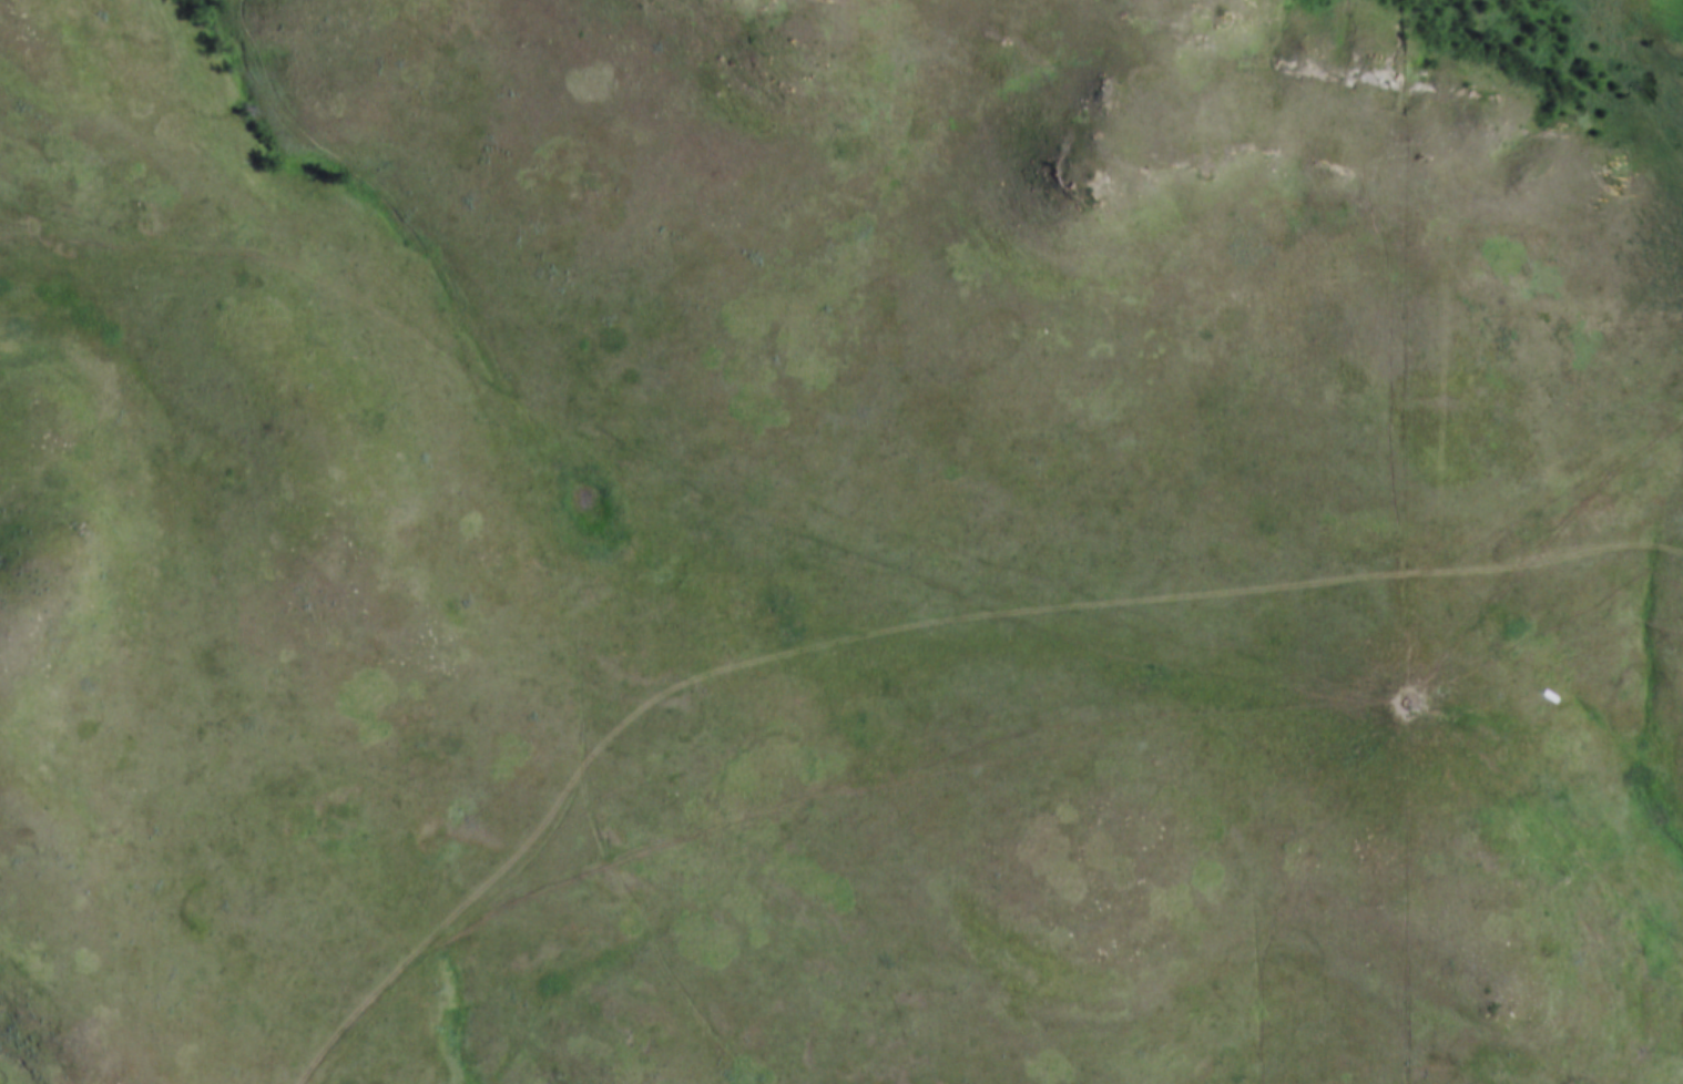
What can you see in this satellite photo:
building: (1553, 688)

